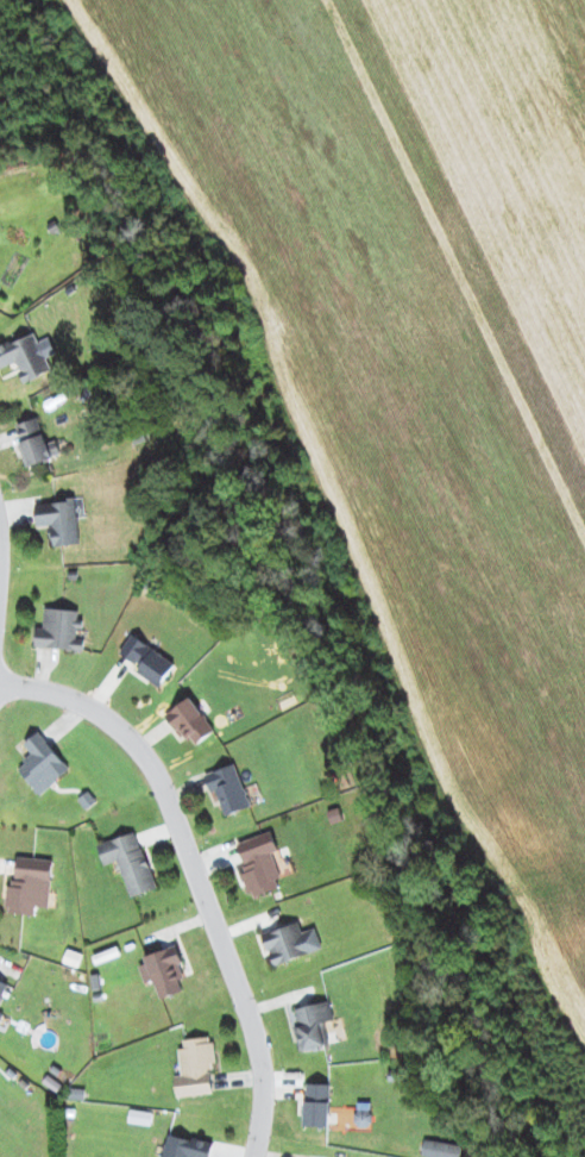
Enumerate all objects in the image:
building: (0, 293)
building: (29, 355)
building: (37, 442)
building: (62, 519)
building: (59, 630)
building: (147, 661)
building: (190, 721)
building: (43, 763)
building: (228, 788)
building: (130, 862)
building: (260, 863)
road: (195, 875)
building: (30, 884)
building: (291, 943)
building: (164, 970)
building: (2, 988)
building: (1, 1017)
building: (319, 1025)
building: (195, 1067)
building: (317, 1105)
building: (441, 1149)

